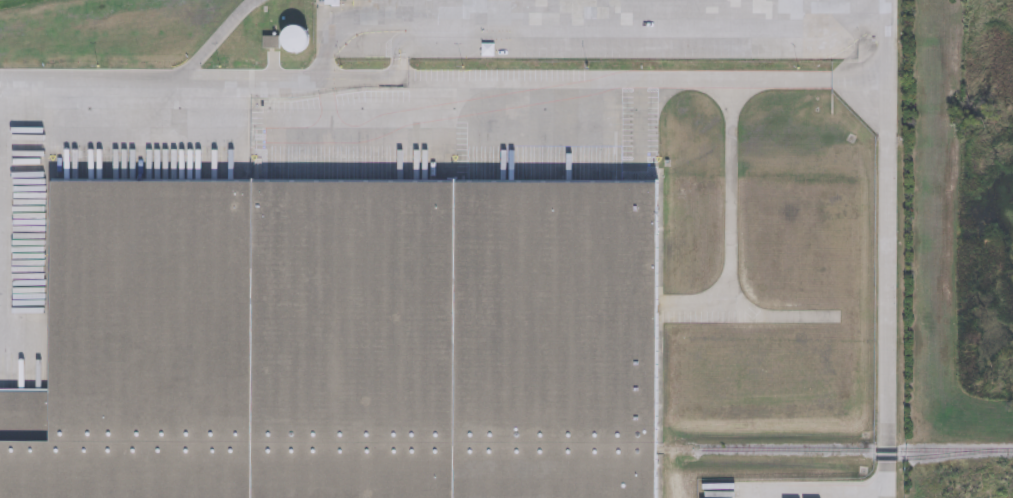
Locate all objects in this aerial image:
road: (362, 9)
road: (573, 18)
road: (215, 39)
road: (885, 41)
building: (299, 42)
road: (442, 80)
road: (885, 290)
building: (342, 343)
railway: (394, 448)
railway: (857, 450)
railway: (941, 456)
road: (823, 490)

